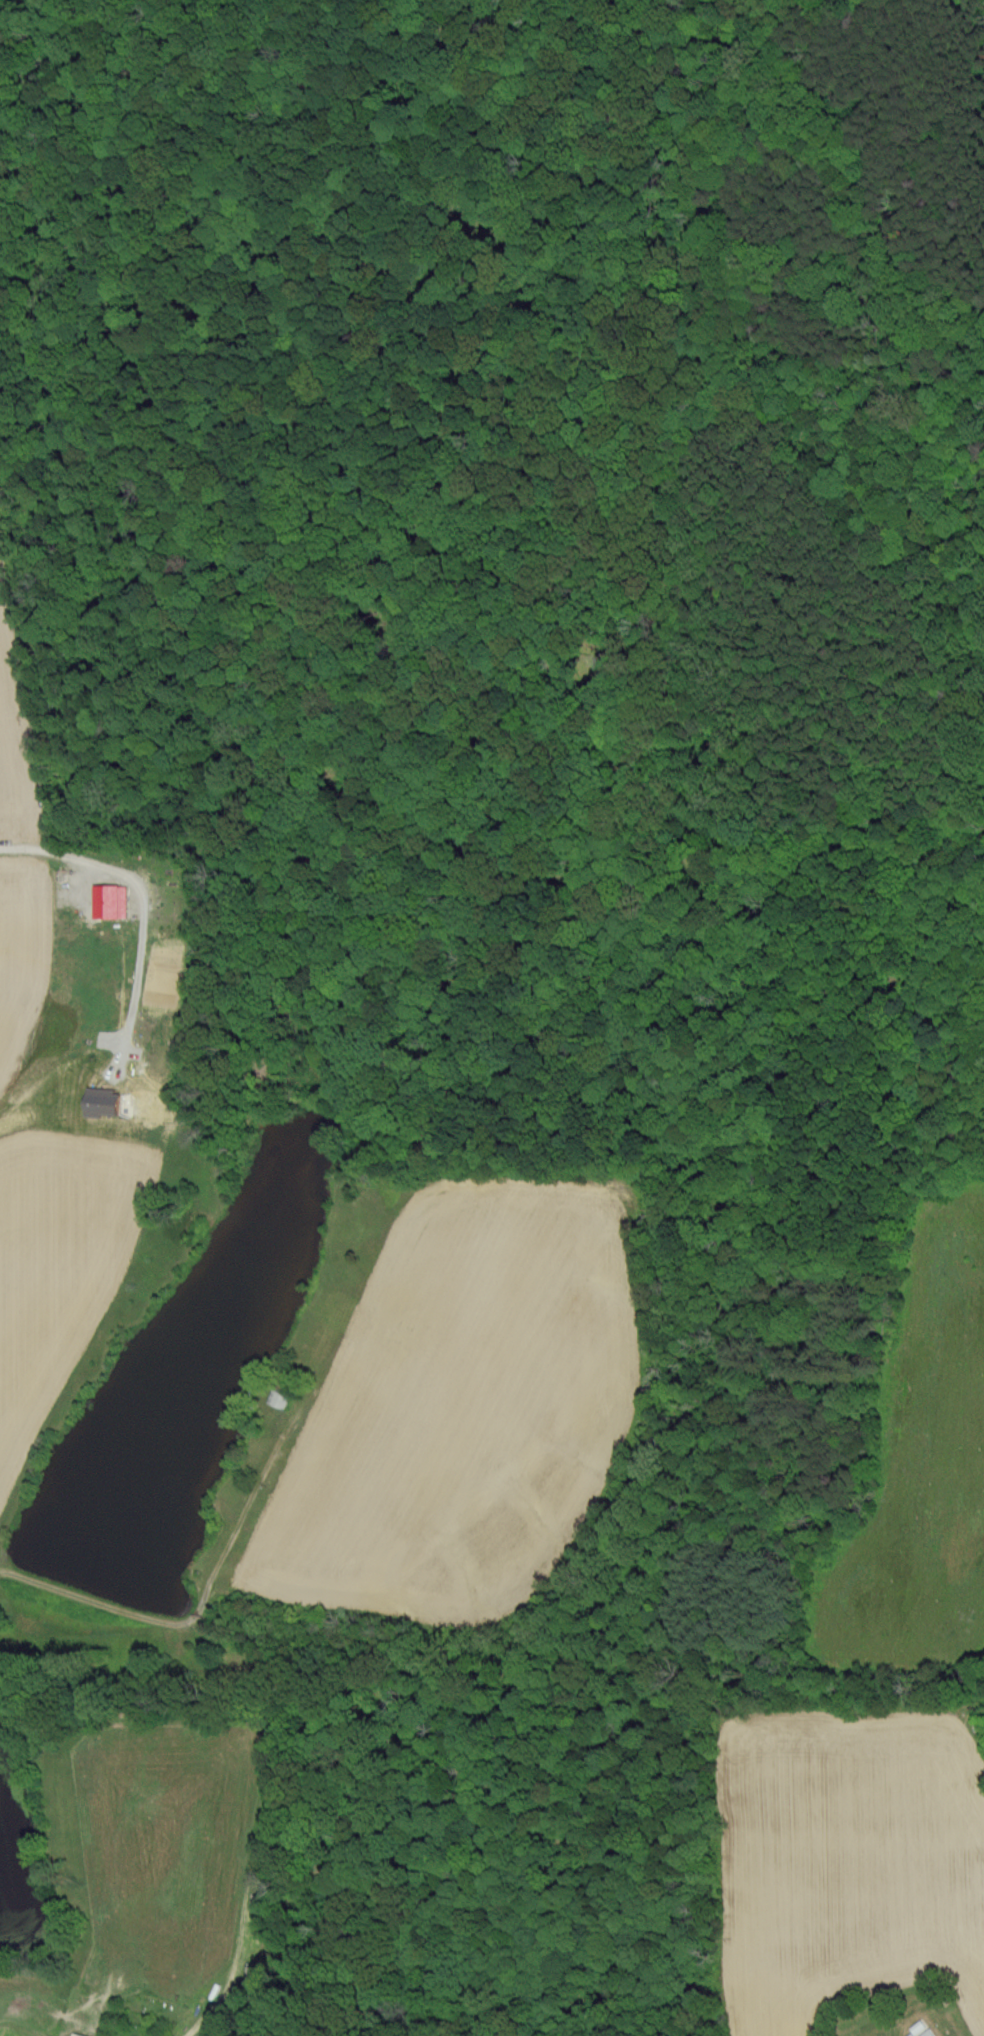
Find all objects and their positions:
building: (108, 900)
building: (100, 1101)
building: (276, 1397)
crop: (459, 1422)
road: (202, 1604)
building: (921, 2033)
building: (74, 2034)

